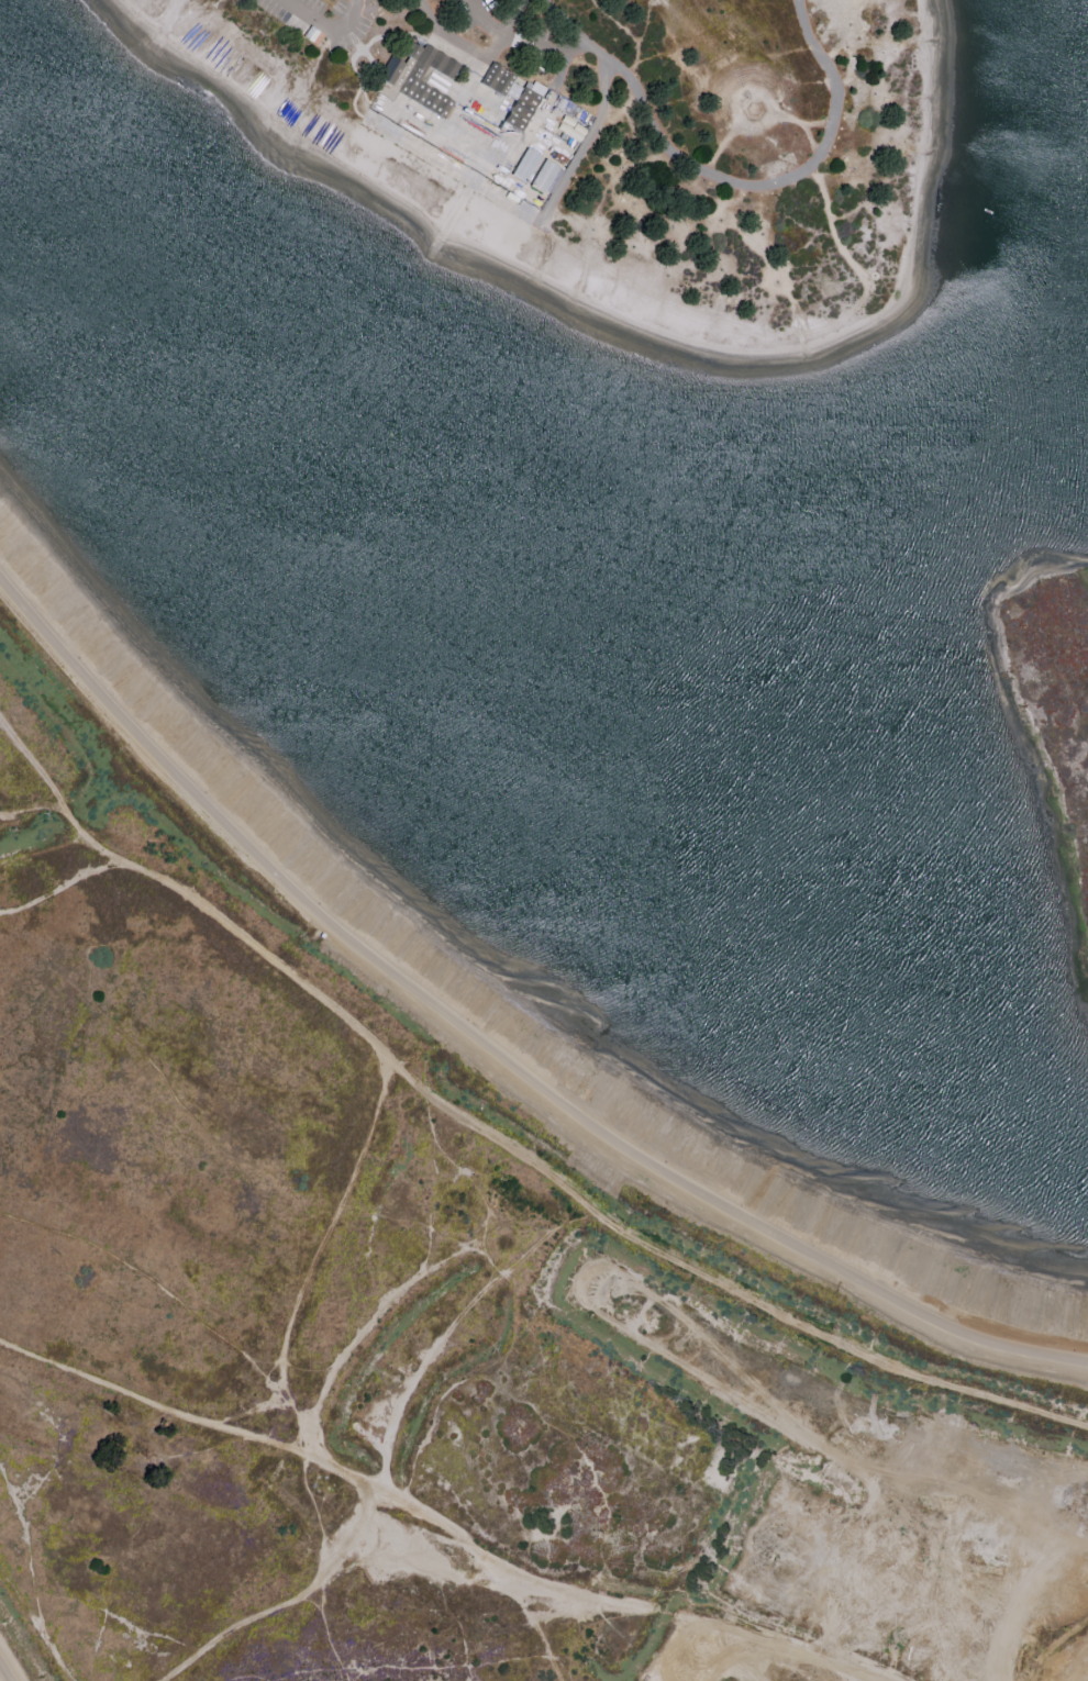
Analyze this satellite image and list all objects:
road: (479, 23)
road: (325, 26)
road: (575, 52)
road: (476, 56)
road: (560, 74)
building: (422, 75)
building: (512, 85)
building: (501, 101)
road: (588, 138)
park: (615, 140)
building: (525, 163)
road: (769, 172)
building: (544, 175)
road: (36, 767)
road: (58, 887)
road: (490, 1047)
road: (177, 1098)
road: (715, 1281)
park: (436, 1288)
road: (338, 1366)
road: (263, 1374)
road: (281, 1395)
road: (304, 1451)
road: (309, 1493)
road: (344, 1546)
road: (32, 1581)
road: (269, 1606)
road: (523, 1611)
road: (4, 1672)

